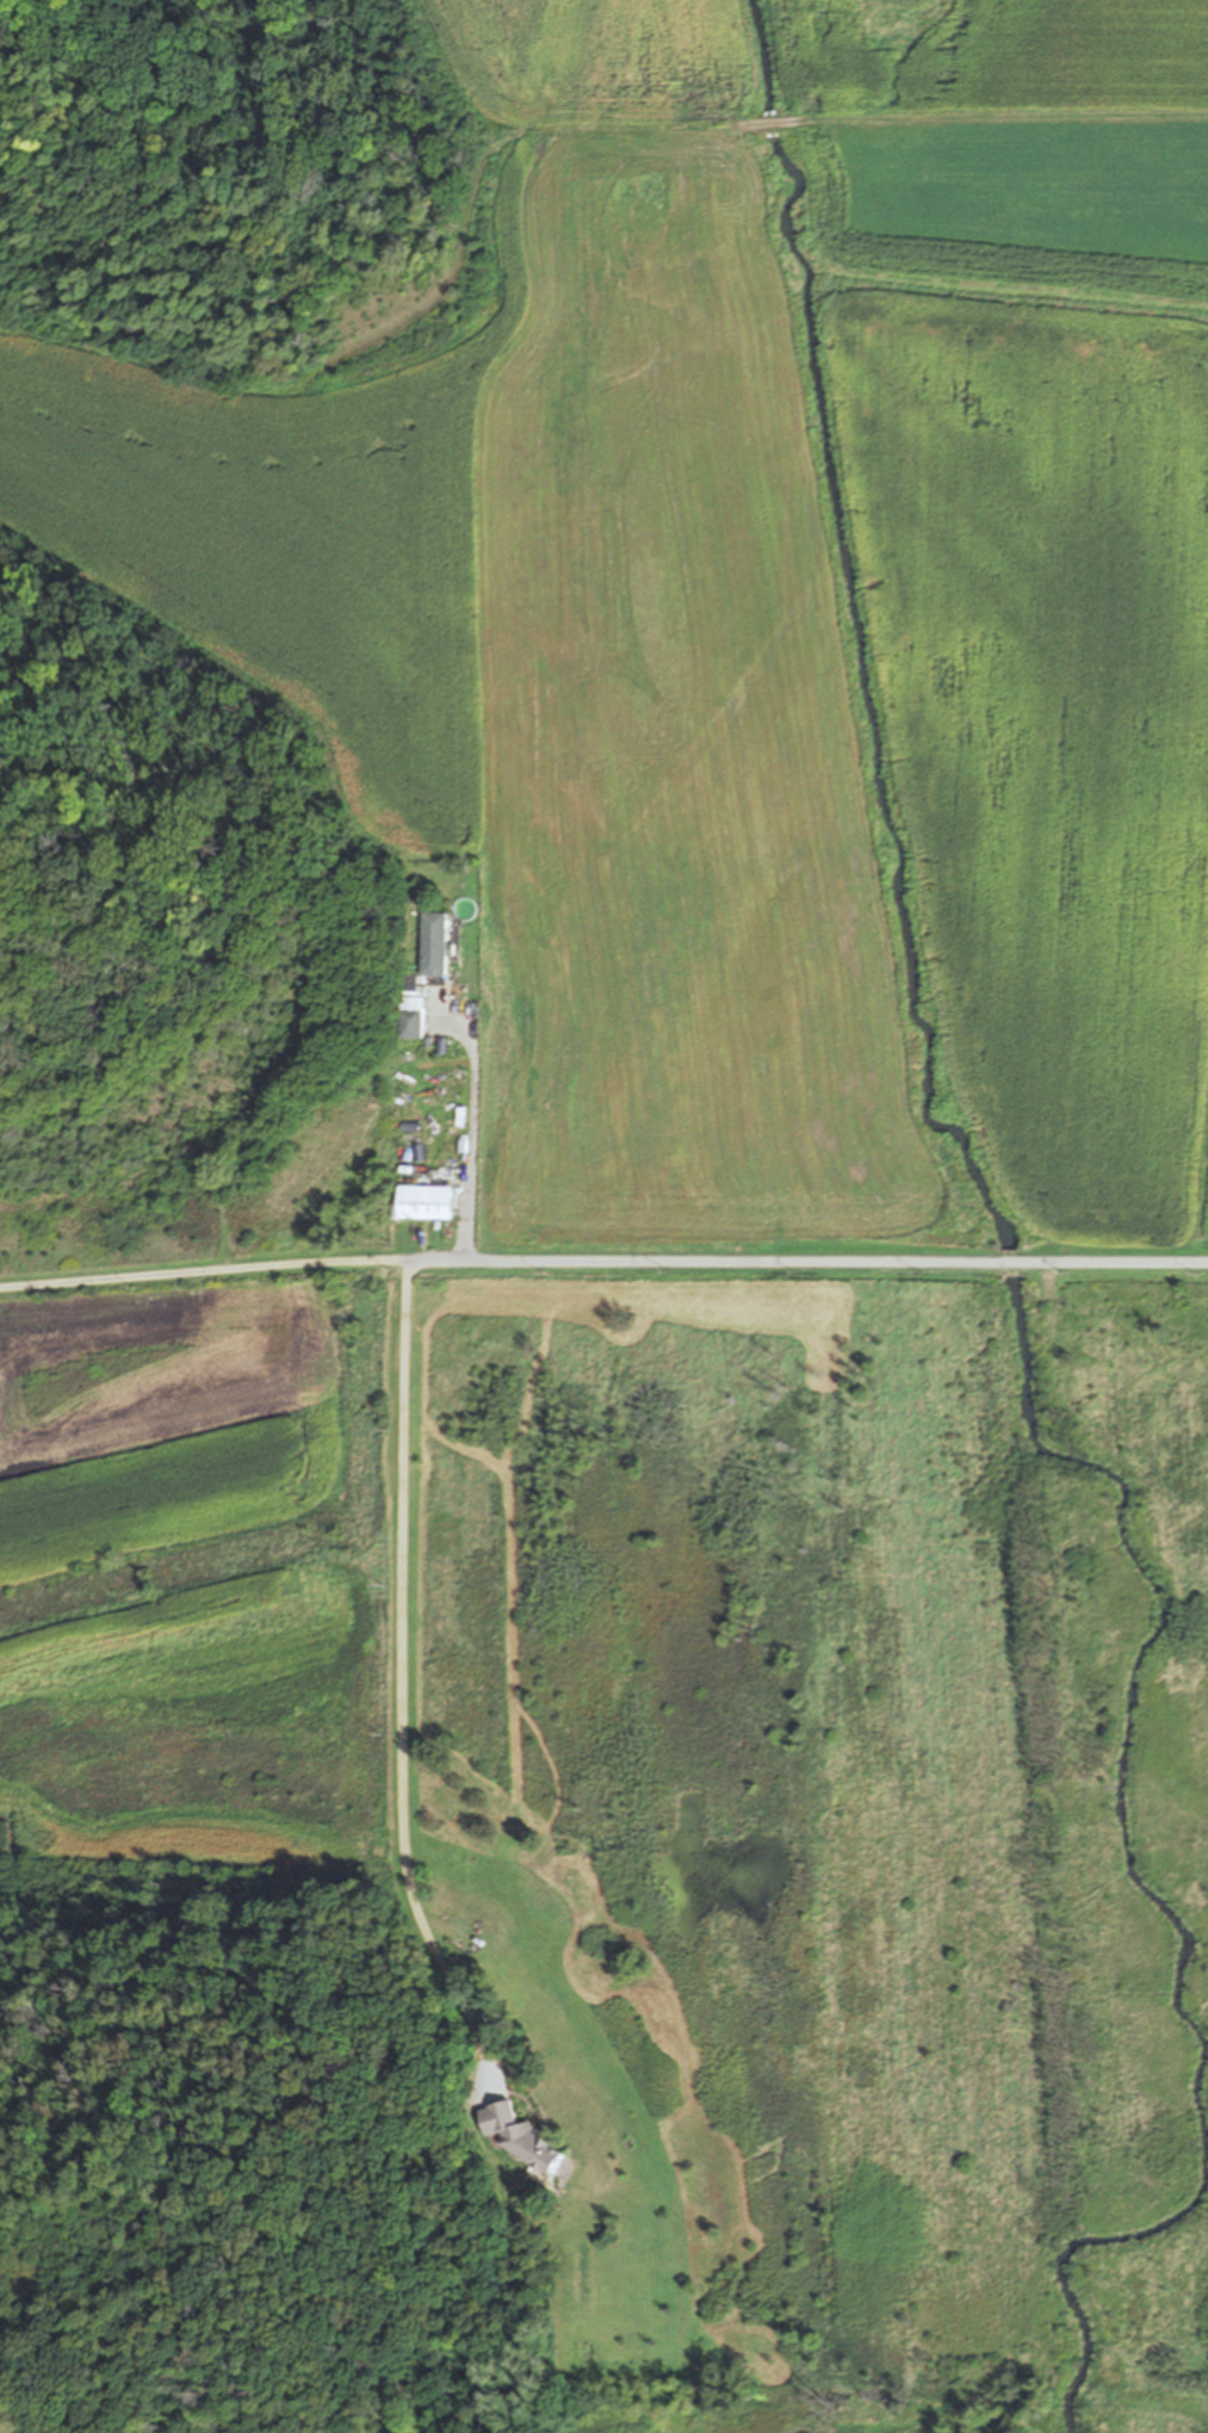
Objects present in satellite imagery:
building: (410, 886)
building: (435, 942)
building: (411, 989)
building: (410, 1019)
road: (471, 1138)
building: (426, 1202)
road: (603, 1263)
road: (402, 1679)
building: (520, 2135)

